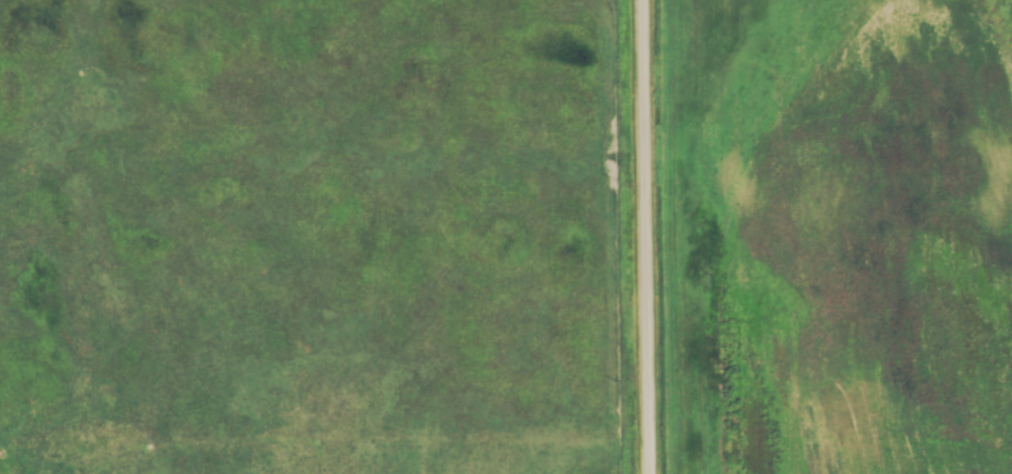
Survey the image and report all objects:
road: (647, 237)

